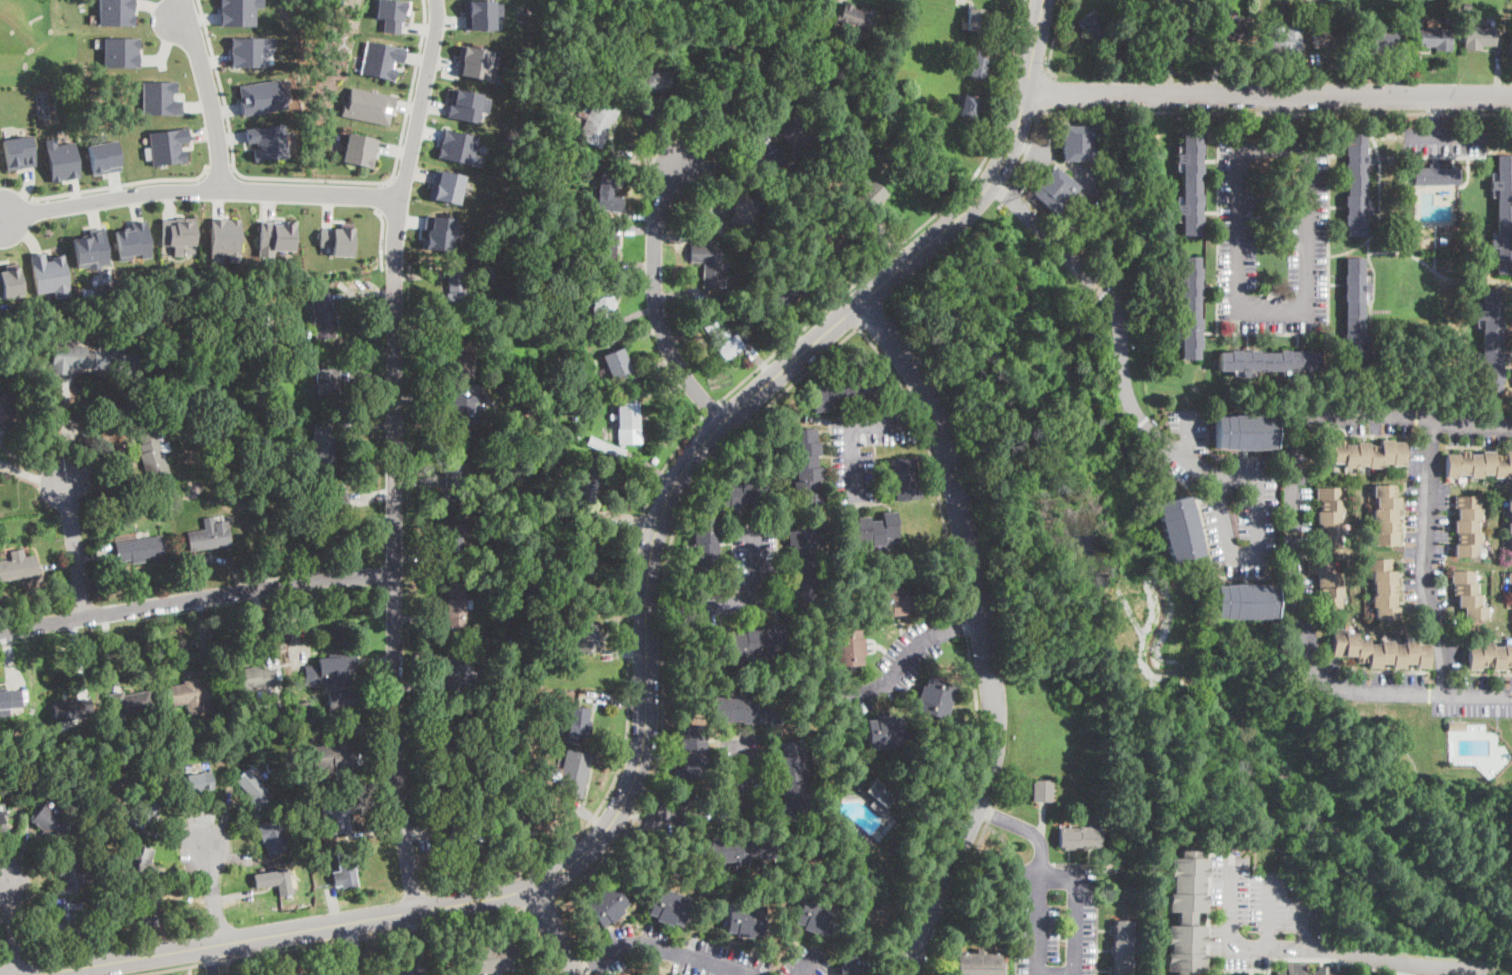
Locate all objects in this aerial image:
building: (1457, 6)
building: (1466, 7)
building: (116, 12)
building: (238, 12)
building: (391, 13)
building: (480, 13)
building: (858, 18)
building: (975, 20)
building: (1261, 21)
building: (1158, 25)
building: (1233, 28)
building: (1097, 32)
building: (1381, 37)
building: (1478, 37)
building: (1177, 38)
building: (1284, 38)
building: (1330, 38)
building: (1433, 38)
road: (1053, 40)
building: (249, 50)
building: (120, 51)
building: (380, 59)
building: (474, 61)
building: (778, 61)
building: (977, 67)
building: (651, 83)
road: (1046, 92)
road: (1269, 94)
building: (261, 96)
building: (159, 97)
road: (209, 99)
building: (465, 104)
building: (719, 104)
building: (368, 105)
building: (969, 106)
road: (1227, 111)
building: (599, 122)
building: (799, 133)
road: (1419, 139)
road: (1433, 139)
parking lot: (1444, 140)
building: (267, 141)
building: (1079, 143)
building: (167, 145)
building: (458, 147)
road: (1030, 149)
building: (358, 150)
building: (17, 152)
building: (103, 156)
building: (61, 159)
road: (733, 164)
road: (220, 167)
building: (1434, 175)
road: (317, 181)
road: (121, 184)
building: (1189, 184)
building: (445, 185)
building: (1357, 185)
road: (200, 190)
building: (1055, 190)
building: (608, 194)
building: (869, 195)
road: (385, 196)
road: (1076, 207)
building: (744, 210)
building: (1502, 215)
parking lot: (1309, 226)
road: (918, 229)
building: (178, 232)
building: (440, 232)
building: (275, 234)
building: (225, 237)
building: (827, 237)
road: (382, 238)
building: (337, 239)
building: (132, 241)
building: (605, 248)
building: (91, 249)
building: (172, 250)
parking lot: (1251, 253)
building: (708, 263)
building: (49, 274)
building: (10, 281)
building: (454, 290)
building: (783, 294)
road: (656, 301)
building: (601, 305)
building: (1188, 307)
road: (1294, 312)
building: (324, 316)
building: (1355, 317)
road: (858, 327)
building: (281, 335)
building: (723, 338)
building: (257, 339)
building: (1490, 340)
building: (462, 356)
building: (276, 358)
building: (96, 362)
building: (1269, 362)
building: (618, 364)
road: (1122, 381)
building: (327, 385)
building: (844, 393)
building: (175, 401)
building: (257, 403)
building: (167, 404)
building: (10, 407)
road: (712, 409)
building: (464, 414)
building: (629, 423)
road: (859, 426)
road: (65, 431)
building: (1246, 433)
road: (1187, 434)
building: (325, 442)
building: (549, 445)
building: (606, 446)
road: (395, 453)
building: (1363, 454)
building: (153, 455)
building: (1478, 464)
building: (455, 469)
building: (807, 469)
building: (222, 473)
building: (903, 480)
building: (597, 484)
building: (277, 490)
building: (740, 493)
building: (154, 506)
building: (326, 506)
building: (1386, 515)
building: (1330, 517)
building: (1511, 517)
road: (1224, 525)
building: (1467, 527)
building: (1179, 529)
building: (871, 530)
building: (210, 537)
building: (452, 542)
road: (1296, 542)
building: (704, 543)
building: (139, 548)
road: (74, 550)
parking lot: (754, 556)
road: (1427, 559)
building: (588, 562)
building: (18, 566)
building: (805, 570)
building: (1328, 583)
building: (1511, 585)
building: (1482, 587)
building: (1384, 590)
building: (1468, 595)
building: (898, 598)
road: (197, 600)
road: (735, 601)
building: (1246, 602)
building: (456, 604)
road: (984, 631)
building: (585, 638)
building: (752, 642)
road: (646, 644)
road: (630, 647)
building: (847, 648)
building: (1380, 651)
road: (911, 653)
building: (1489, 656)
building: (329, 669)
building: (460, 669)
building: (253, 682)
building: (193, 694)
building: (935, 698)
building: (10, 699)
building: (340, 701)
building: (130, 703)
building: (73, 710)
building: (747, 710)
building: (262, 713)
building: (300, 713)
building: (310, 720)
building: (576, 721)
building: (1456, 726)
building: (885, 732)
building: (694, 753)
building: (336, 758)
building: (455, 762)
building: (572, 774)
building: (791, 781)
building: (200, 782)
building: (149, 783)
building: (252, 789)
building: (843, 790)
building: (1043, 791)
building: (879, 797)
building: (144, 809)
road: (714, 811)
building: (534, 812)
building: (337, 813)
building: (2, 821)
building: (51, 824)
building: (273, 837)
building: (1080, 837)
building: (465, 841)
building: (735, 848)
building: (139, 858)
building: (349, 868)
building: (71, 872)
building: (118, 878)
building: (275, 881)
road: (212, 895)
road: (953, 903)
road: (540, 904)
building: (606, 905)
building: (668, 907)
building: (149, 908)
road: (1268, 912)
building: (1186, 913)
parking lot: (1259, 915)
building: (816, 916)
building: (745, 920)
parking lot: (1054, 920)
building: (68, 921)
road: (1306, 924)
road: (14, 927)
road: (551, 930)
road: (412, 933)
road: (539, 941)
road: (334, 942)
road: (655, 943)
road: (350, 947)
building: (1123, 949)
road: (1313, 950)
road: (1038, 952)
building: (494, 957)
road: (212, 959)
building: (979, 964)
road: (410, 965)
road: (806, 965)
building: (856, 965)
parking lot: (380, 966)
building: (1292, 968)
building: (1364, 973)
parking lot: (213, 974)
road: (213, 974)
building: (302, 974)
road: (349, 974)
building: (648, 974)
building: (657, 974)

